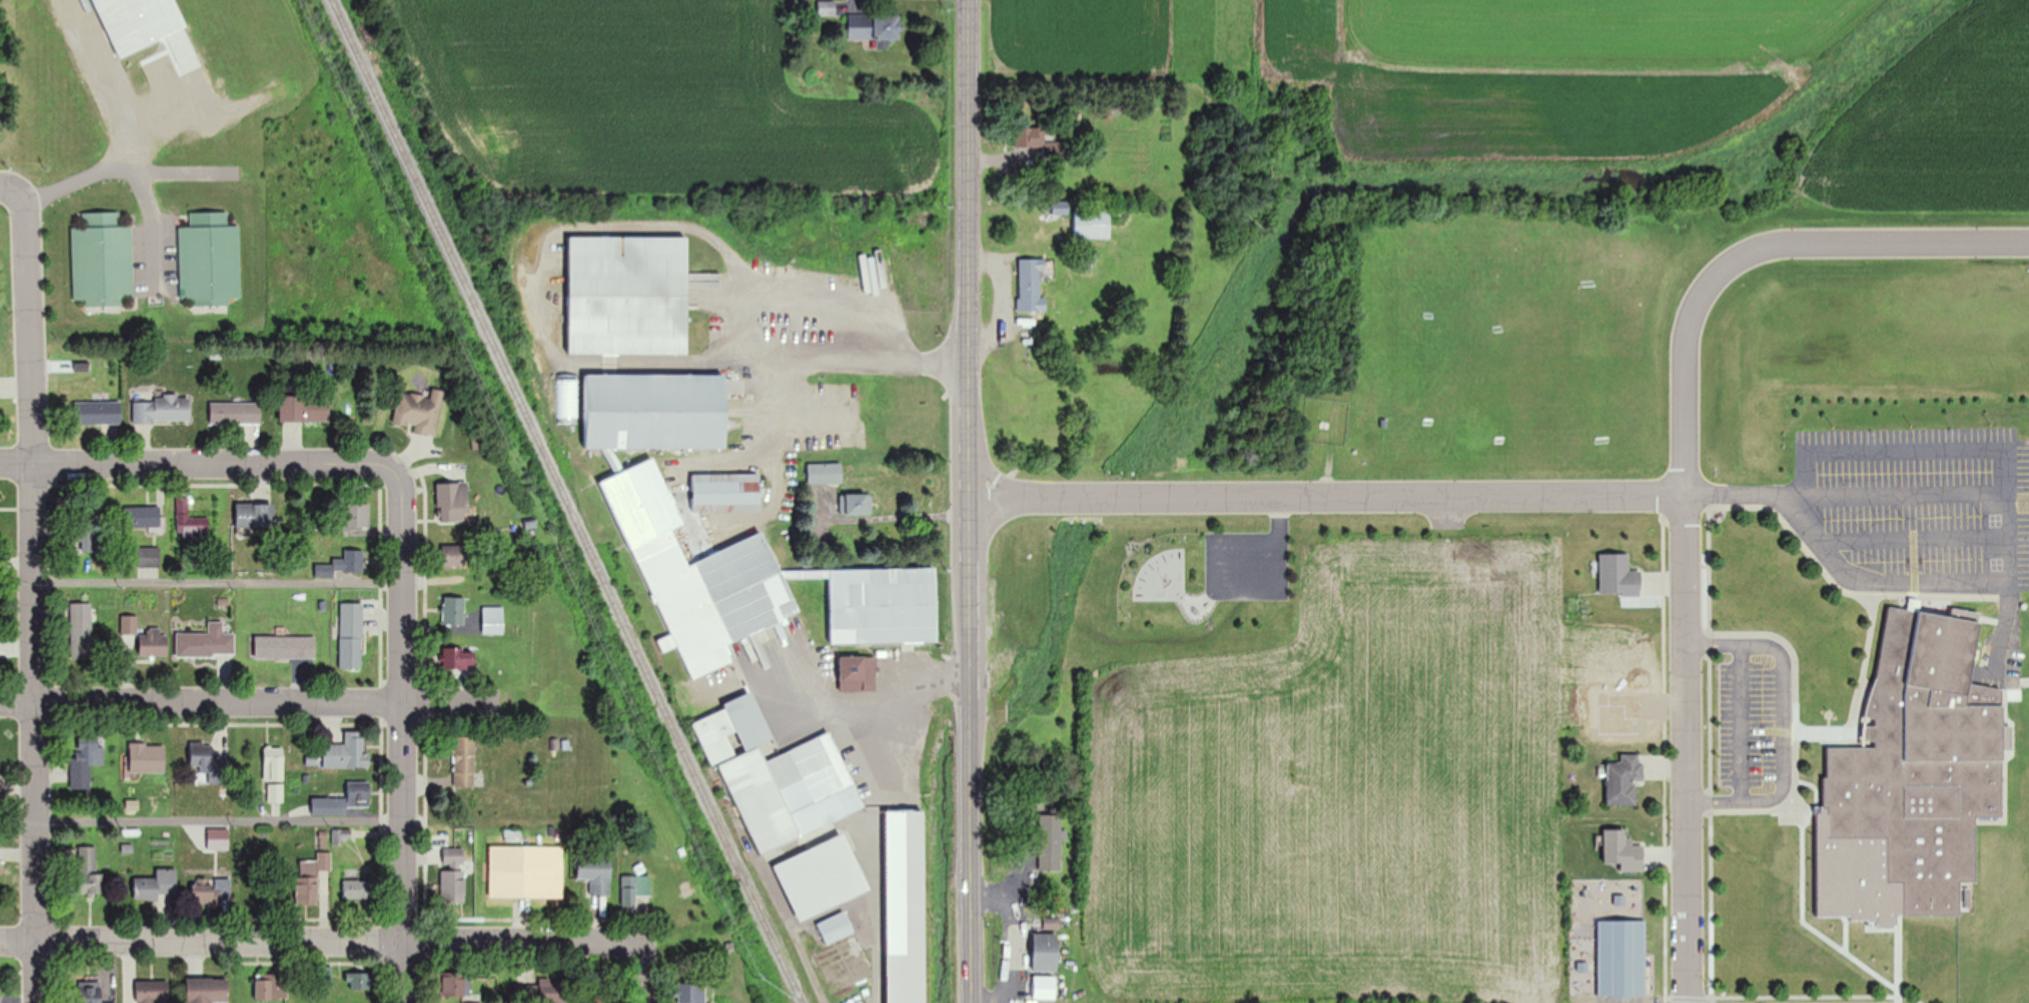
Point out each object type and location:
building: (137, 23)
building: (876, 28)
park: (4, 85)
building: (1031, 138)
road: (132, 174)
road: (969, 182)
road: (8, 187)
building: (1093, 228)
road: (1841, 240)
building: (102, 259)
building: (209, 259)
building: (903, 276)
building: (1031, 286)
building: (628, 297)
road: (844, 366)
road: (969, 395)
building: (163, 408)
building: (304, 408)
building: (96, 411)
building: (235, 412)
building: (419, 412)
building: (656, 412)
road: (969, 462)
road: (198, 463)
building: (616, 465)
building: (825, 473)
road: (997, 479)
building: (726, 492)
road: (1905, 492)
road: (1012, 498)
road: (1371, 498)
building: (452, 501)
building: (857, 503)
railway: (556, 504)
building: (255, 515)
building: (142, 516)
building: (190, 519)
building: (356, 519)
building: (80, 536)
road: (1916, 536)
building: (148, 556)
building: (453, 556)
building: (341, 564)
road: (2006, 570)
road: (970, 571)
building: (1618, 574)
building: (699, 576)
road: (217, 583)
road: (34, 595)
building: (883, 605)
building: (453, 610)
building: (493, 620)
building: (81, 630)
building: (351, 636)
building: (206, 642)
building: (153, 643)
building: (284, 647)
road: (1686, 657)
building: (458, 658)
building: (859, 673)
road: (252, 696)
road: (971, 705)
road: (1740, 719)
road: (1781, 721)
road: (401, 737)
building: (347, 752)
building: (87, 755)
building: (147, 758)
building: (206, 761)
building: (1921, 761)
building: (464, 762)
building: (273, 765)
building: (1624, 780)
crop: (1352, 786)
building: (275, 793)
building: (359, 793)
building: (329, 805)
road: (219, 822)
building: (341, 835)
building: (1050, 842)
building: (871, 846)
building: (522, 865)
building: (88, 870)
building: (596, 873)
building: (453, 876)
building: (308, 882)
road: (971, 884)
building: (157, 886)
building: (483, 886)
building: (212, 889)
building: (356, 889)
building: (629, 896)
road: (320, 939)
building: (1045, 948)
building: (841, 953)
road: (641, 970)
building: (358, 980)
building: (456, 983)
building: (271, 986)
building: (1044, 988)
building: (207, 990)
building: (551, 991)
building: (89, 992)
building: (152, 992)
building: (690, 992)

